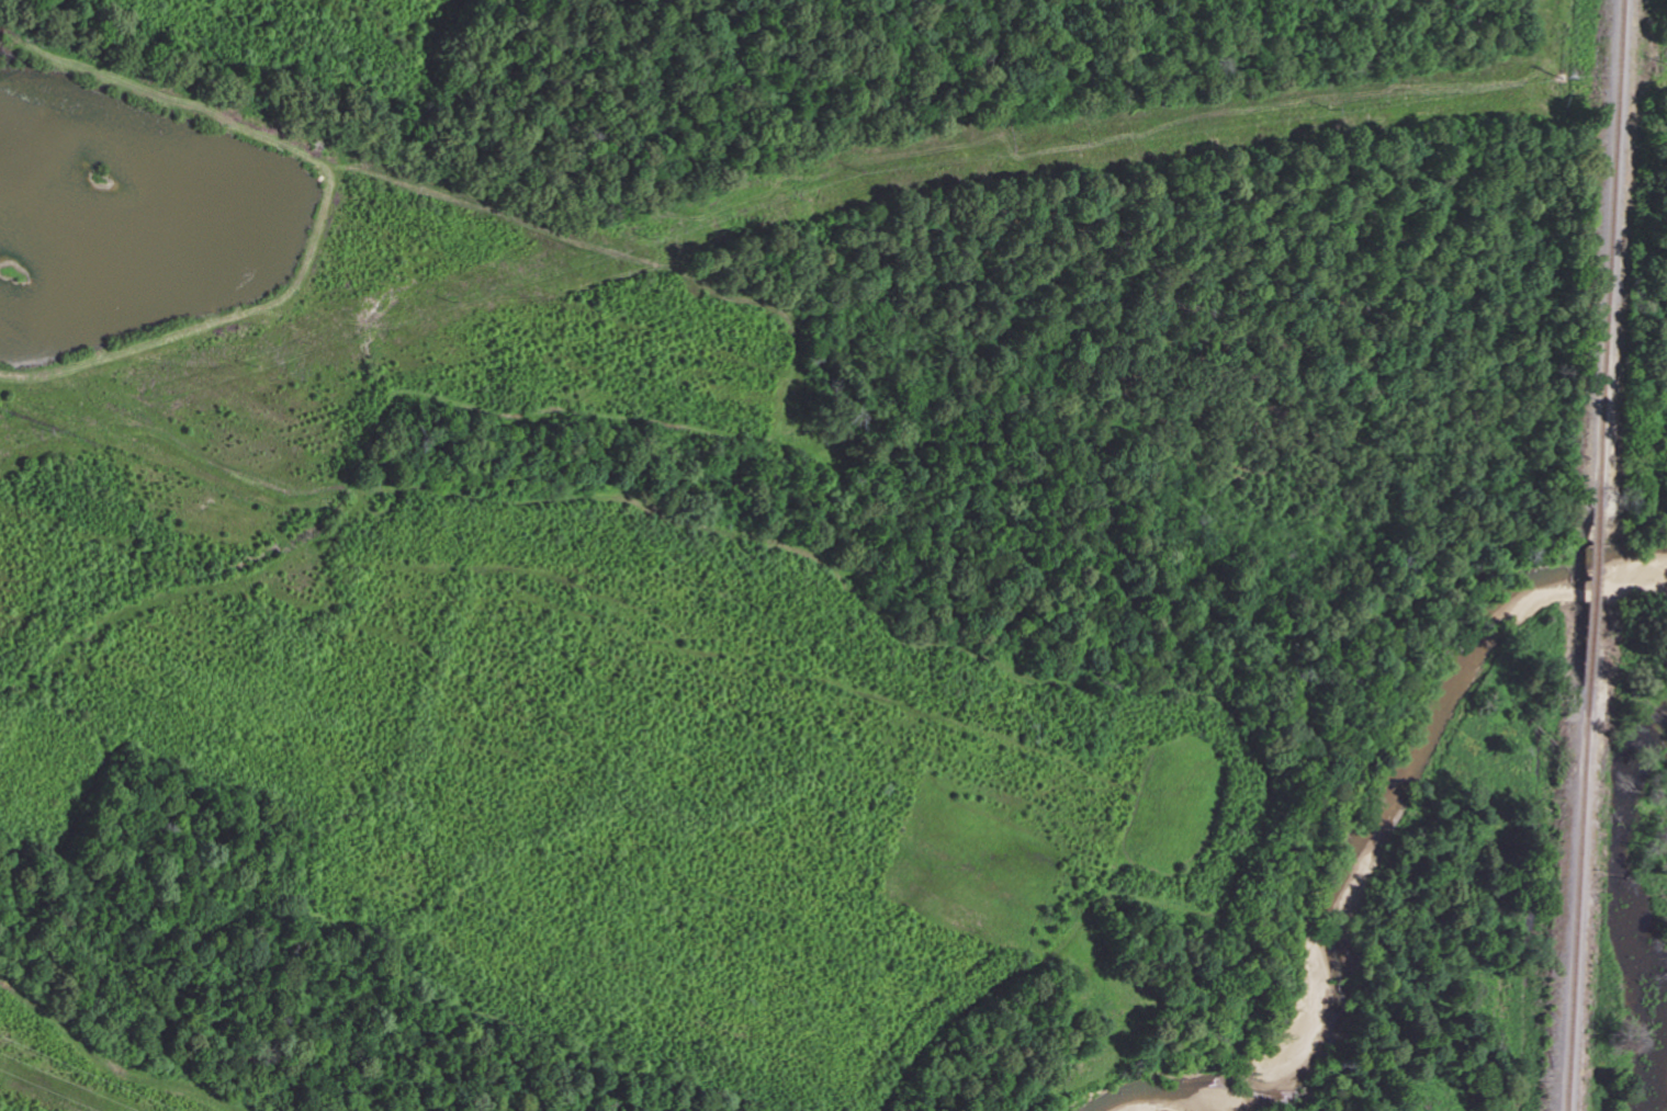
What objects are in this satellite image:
railway: (1617, 240)
railway: (1599, 596)
railway: (1581, 910)

